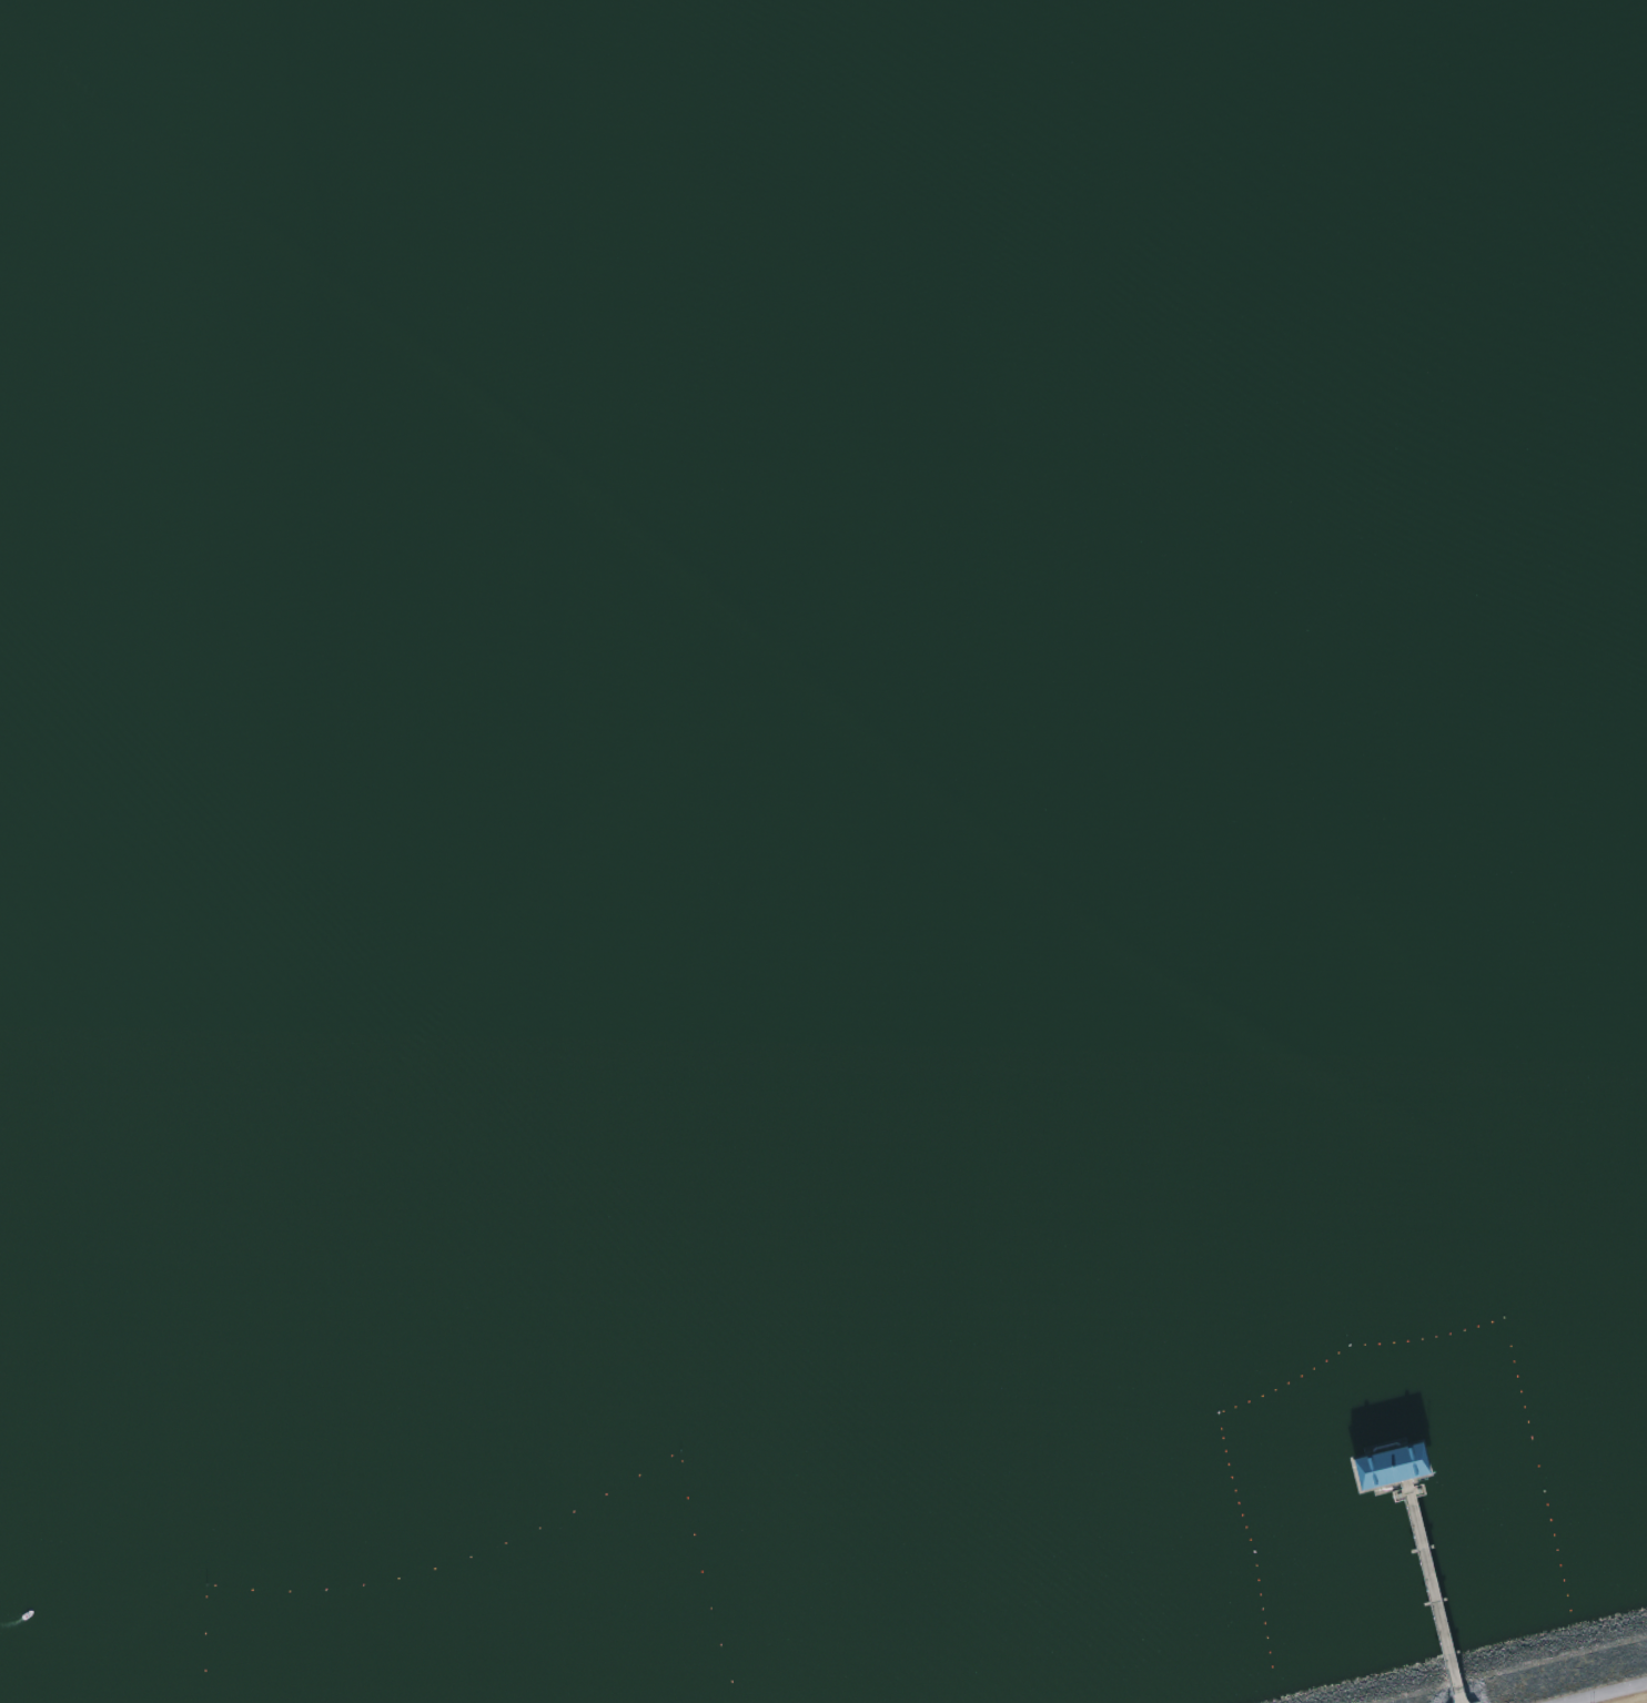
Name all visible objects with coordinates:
road: (1373, 1443)
building: (1394, 1461)
road: (1434, 1582)
dam: (1515, 1670)
road: (1603, 1692)
road: (1462, 1696)

